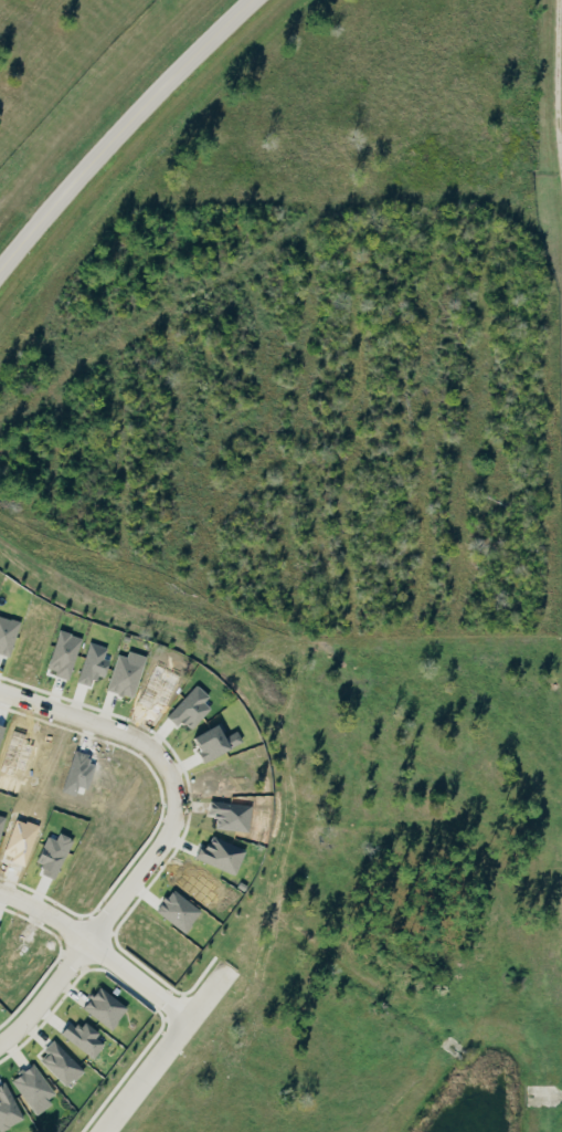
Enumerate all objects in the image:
road: (554, 92)
road: (121, 132)
building: (9, 633)
building: (128, 675)
road: (172, 768)
building: (56, 853)
building: (225, 855)
road: (45, 912)
road: (49, 990)
building: (108, 1008)
road: (181, 1025)
building: (86, 1038)
building: (64, 1063)
building: (36, 1088)
building: (9, 1109)

